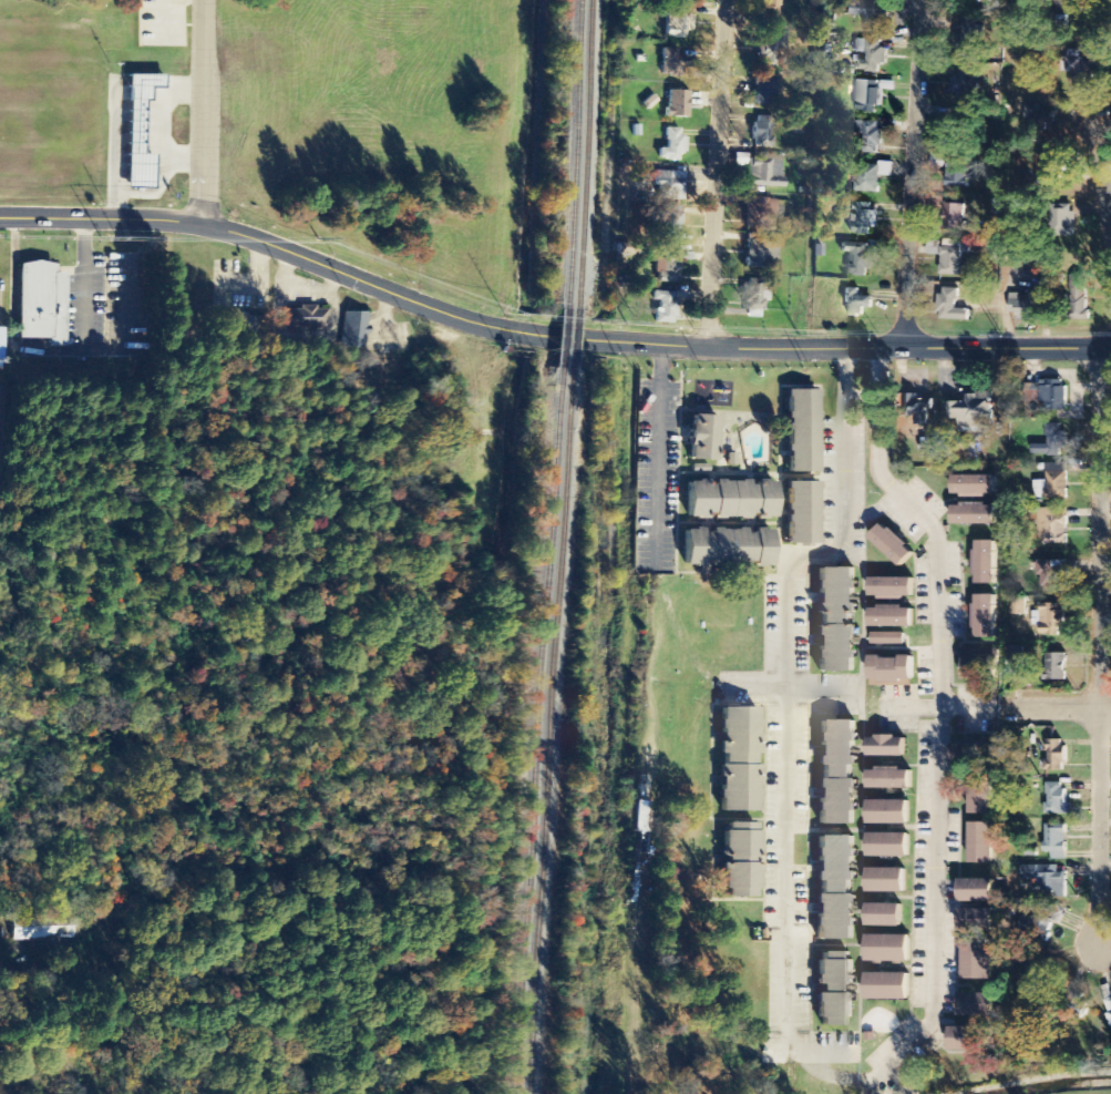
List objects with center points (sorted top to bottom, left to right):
building: (765, 12)
building: (867, 13)
building: (677, 24)
building: (971, 31)
building: (773, 50)
building: (871, 55)
building: (673, 62)
building: (1077, 68)
building: (966, 88)
building: (764, 92)
building: (867, 98)
building: (648, 102)
building: (676, 103)
road: (202, 113)
building: (762, 132)
building: (870, 136)
building: (671, 145)
railway: (573, 154)
railway: (584, 155)
building: (764, 171)
road: (718, 173)
road: (914, 173)
building: (960, 173)
building: (871, 177)
road: (1102, 178)
building: (668, 185)
building: (760, 213)
building: (954, 217)
building: (863, 219)
building: (1062, 221)
building: (671, 223)
road: (261, 242)
building: (760, 254)
building: (861, 257)
building: (953, 257)
building: (666, 266)
building: (754, 294)
building: (1078, 299)
building: (40, 303)
building: (855, 303)
building: (1023, 305)
building: (951, 306)
building: (663, 307)
building: (308, 319)
building: (354, 330)
road: (523, 334)
road: (560, 337)
building: (0, 338)
railway: (562, 338)
railway: (573, 339)
road: (598, 341)
road: (860, 346)
building: (1055, 396)
building: (919, 407)
building: (973, 411)
building: (800, 431)
building: (700, 438)
building: (1051, 442)
road: (658, 458)
building: (1057, 482)
building: (973, 485)
building: (729, 500)
building: (800, 513)
building: (973, 514)
building: (1052, 526)
building: (891, 545)
building: (726, 548)
building: (986, 563)
building: (1052, 573)
building: (891, 589)
building: (1018, 607)
building: (985, 616)
building: (891, 617)
building: (834, 620)
building: (1052, 620)
building: (887, 640)
building: (1015, 654)
road: (1099, 655)
building: (1056, 667)
building: (975, 669)
building: (891, 672)
road: (1029, 708)
railway: (541, 730)
railway: (551, 732)
building: (886, 747)
building: (973, 754)
building: (1056, 756)
building: (737, 760)
building: (835, 773)
building: (888, 779)
building: (981, 795)
building: (1056, 799)
building: (887, 812)
building: (1056, 842)
building: (981, 843)
building: (887, 846)
building: (738, 860)
building: (885, 881)
building: (1052, 883)
building: (834, 888)
building: (975, 891)
building: (883, 916)
building: (976, 922)
building: (45, 928)
building: (1037, 928)
building: (887, 950)
building: (977, 961)
building: (886, 988)
building: (833, 990)
building: (975, 1005)
building: (1109, 1006)
building: (969, 1040)

